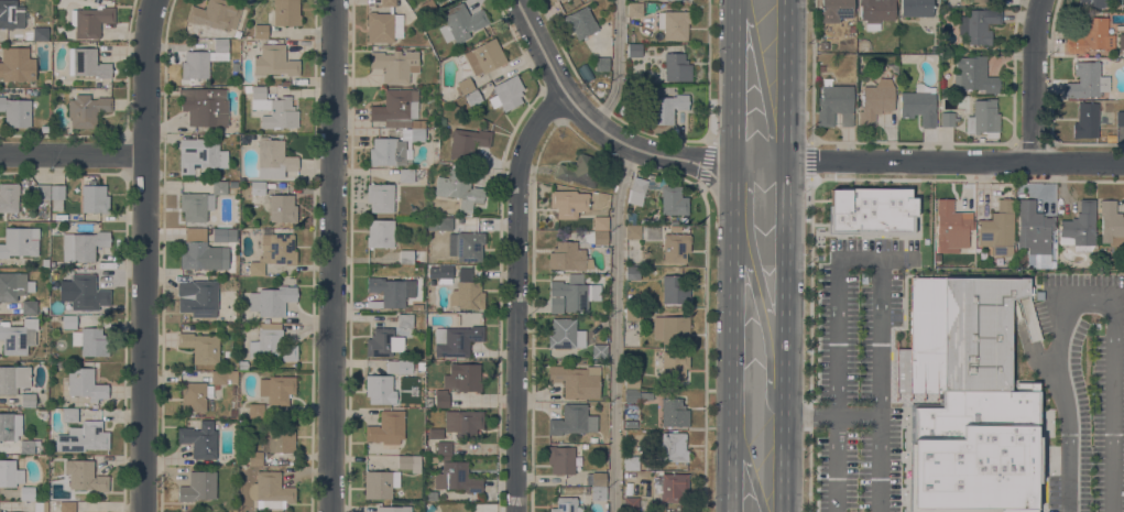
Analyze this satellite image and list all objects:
building: (980, 0)
building: (248, 1)
building: (1091, 3)
building: (427, 7)
building: (635, 9)
building: (917, 9)
building: (836, 10)
building: (286, 12)
building: (876, 12)
building: (11, 13)
building: (216, 14)
building: (91, 20)
building: (460, 22)
building: (580, 22)
building: (384, 24)
building: (674, 24)
building: (978, 25)
building: (1118, 26)
building: (851, 29)
building: (261, 31)
building: (41, 33)
building: (237, 33)
building: (1091, 35)
building: (1121, 41)
building: (634, 51)
building: (485, 56)
building: (203, 59)
building: (274, 61)
building: (87, 63)
building: (602, 63)
building: (17, 64)
building: (395, 65)
building: (234, 66)
road: (620, 66)
building: (677, 67)
building: (820, 68)
building: (974, 74)
road: (734, 80)
road: (784, 80)
road: (1037, 80)
building: (1087, 80)
road: (762, 81)
building: (465, 86)
building: (248, 88)
building: (506, 92)
building: (473, 98)
building: (875, 100)
building: (834, 104)
building: (919, 105)
building: (205, 106)
building: (395, 108)
building: (87, 109)
building: (273, 110)
building: (15, 111)
building: (666, 111)
building: (948, 118)
building: (983, 118)
building: (1120, 118)
building: (1088, 120)
road: (593, 124)
building: (421, 126)
building: (44, 129)
building: (249, 138)
road: (812, 140)
road: (914, 141)
building: (468, 142)
road: (593, 146)
building: (394, 148)
building: (200, 154)
road: (72, 155)
building: (274, 159)
road: (810, 160)
road: (759, 161)
road: (953, 162)
building: (580, 170)
building: (203, 175)
building: (406, 175)
road: (812, 179)
road: (1054, 179)
building: (219, 187)
building: (459, 188)
building: (637, 190)
building: (43, 192)
building: (57, 196)
building: (9, 197)
building: (380, 197)
building: (95, 198)
building: (673, 200)
building: (274, 203)
building: (568, 203)
building: (194, 206)
building: (872, 209)
building: (631, 217)
building: (683, 219)
building: (600, 222)
building: (1111, 222)
building: (445, 224)
building: (675, 227)
building: (952, 227)
building: (1080, 227)
building: (998, 228)
building: (1034, 228)
road: (919, 230)
building: (633, 231)
building: (381, 232)
building: (225, 235)
building: (600, 238)
building: (20, 241)
road: (906, 242)
building: (84, 244)
building: (468, 246)
building: (675, 247)
building: (275, 252)
road: (144, 255)
building: (203, 255)
road: (331, 255)
building: (568, 257)
road: (875, 257)
building: (406, 258)
building: (45, 259)
road: (906, 259)
road: (755, 262)
road: (811, 262)
building: (633, 272)
building: (440, 273)
road: (969, 275)
building: (14, 285)
building: (675, 290)
building: (86, 291)
building: (386, 293)
building: (571, 293)
road: (517, 294)
building: (468, 295)
building: (198, 297)
building: (272, 299)
building: (29, 306)
building: (417, 306)
building: (408, 307)
building: (632, 314)
road: (761, 317)
building: (265, 320)
building: (69, 322)
road: (614, 328)
building: (672, 329)
building: (566, 334)
building: (958, 335)
building: (18, 336)
road: (732, 336)
road: (783, 336)
building: (390, 337)
road: (1027, 337)
building: (456, 340)
building: (90, 341)
building: (271, 345)
road: (1058, 346)
building: (201, 347)
building: (599, 350)
building: (241, 353)
building: (674, 363)
building: (242, 364)
building: (399, 366)
building: (421, 366)
building: (223, 377)
building: (463, 377)
building: (13, 378)
building: (577, 380)
building: (632, 380)
building: (86, 383)
road: (838, 384)
road: (881, 384)
building: (277, 389)
building: (380, 389)
road: (892, 391)
building: (194, 395)
building: (632, 395)
building: (645, 395)
building: (441, 397)
building: (28, 400)
road: (1114, 405)
building: (257, 410)
building: (232, 412)
building: (674, 412)
building: (69, 415)
road: (831, 415)
building: (572, 420)
building: (463, 423)
building: (631, 423)
building: (10, 426)
building: (386, 427)
building: (435, 433)
building: (83, 437)
building: (279, 438)
building: (200, 439)
building: (593, 439)
building: (51, 444)
building: (28, 446)
building: (444, 447)
building: (673, 447)
building: (44, 448)
building: (978, 451)
road: (1039, 453)
building: (254, 458)
building: (433, 458)
building: (560, 459)
building: (405, 462)
building: (631, 462)
road: (747, 464)
road: (1069, 472)
building: (10, 473)
building: (85, 476)
building: (457, 477)
building: (598, 478)
building: (378, 484)
building: (198, 486)
building: (674, 488)
building: (270, 490)
building: (626, 490)
building: (26, 492)
building: (598, 493)
building: (432, 495)
building: (631, 503)
building: (567, 504)
building: (67, 506)
building: (394, 509)
building: (0, 511)
building: (3, 511)

